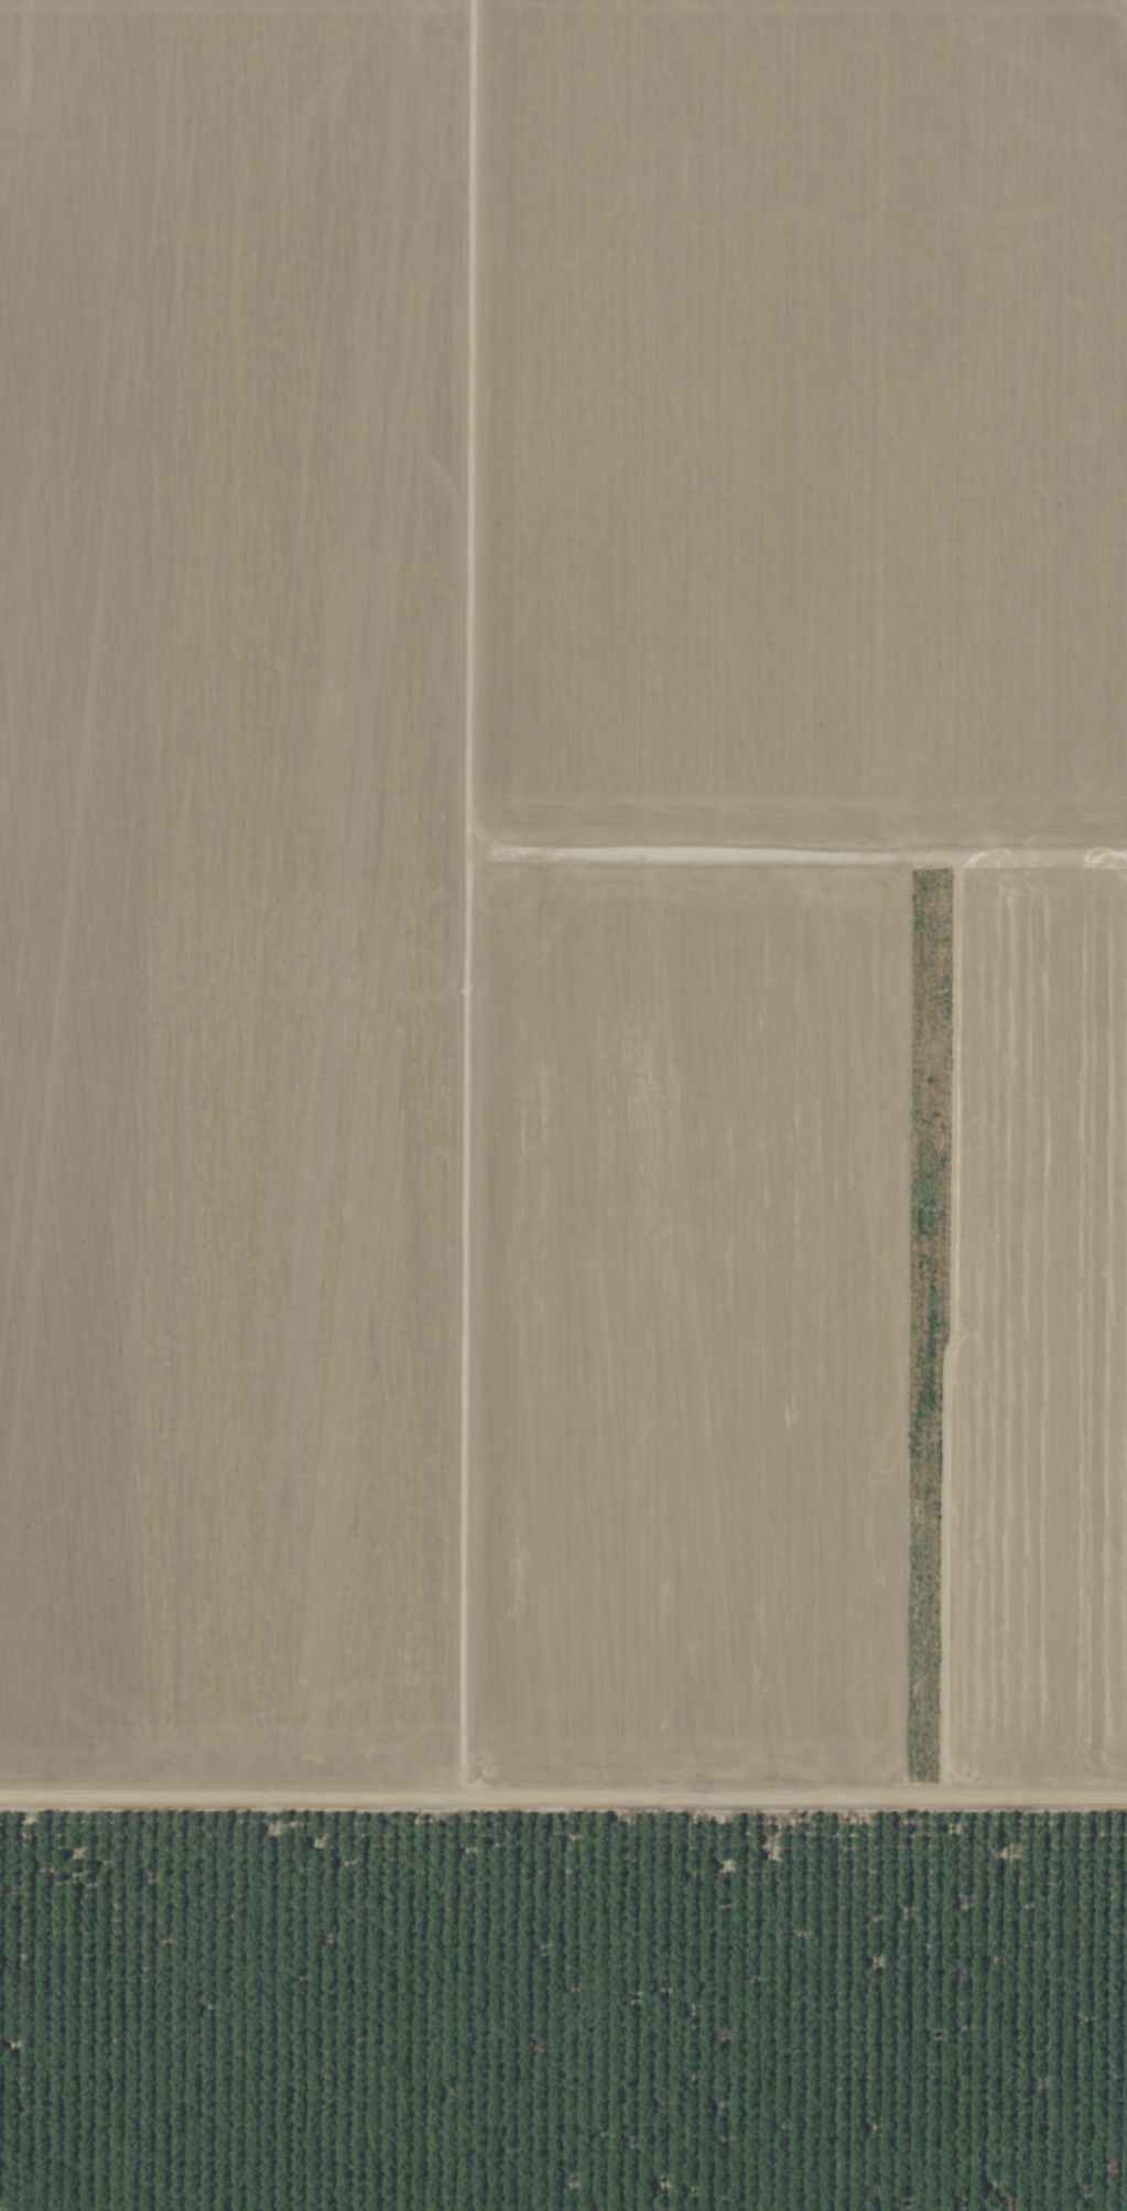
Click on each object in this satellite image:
crop: (563, 1105)
road: (563, 1823)

